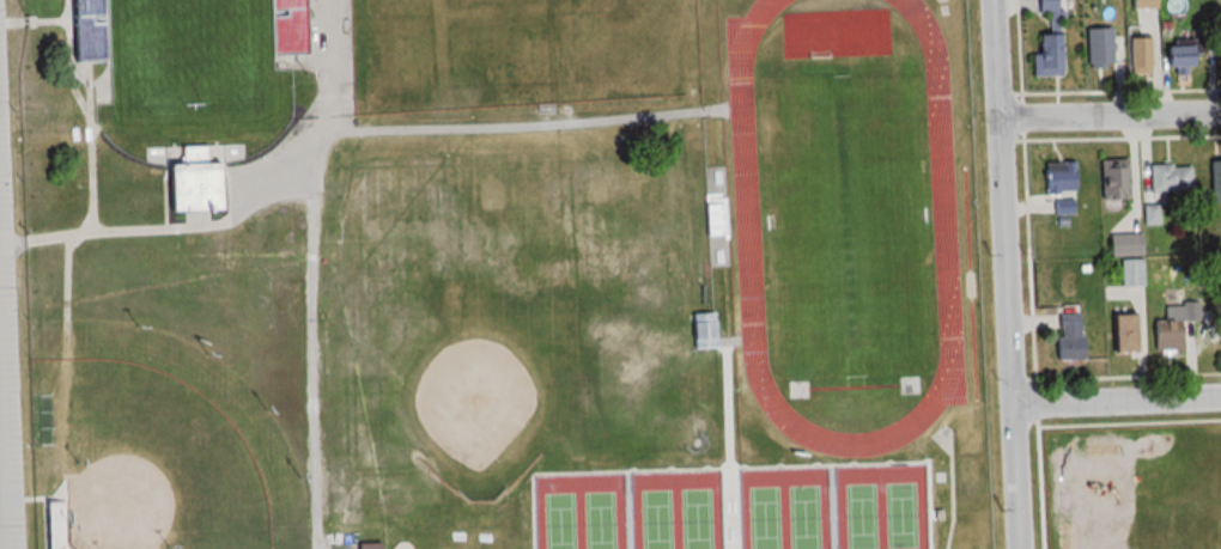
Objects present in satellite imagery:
building: (1143, 4)
building: (1051, 8)
building: (284, 26)
building: (1097, 48)
park: (517, 53)
building: (1178, 55)
building: (1136, 56)
building: (1044, 57)
building: (1219, 57)
road: (1111, 115)
road: (342, 129)
building: (1167, 179)
building: (1112, 181)
building: (1056, 182)
building: (1214, 183)
building: (193, 188)
track: (747, 213)
building: (1124, 245)
building: (1220, 270)
road: (310, 273)
road: (1008, 274)
park: (482, 306)
building: (1172, 325)
building: (700, 331)
building: (1122, 334)
building: (1069, 338)
road: (1117, 401)
park: (170, 446)
park: (783, 508)
building: (367, 545)

